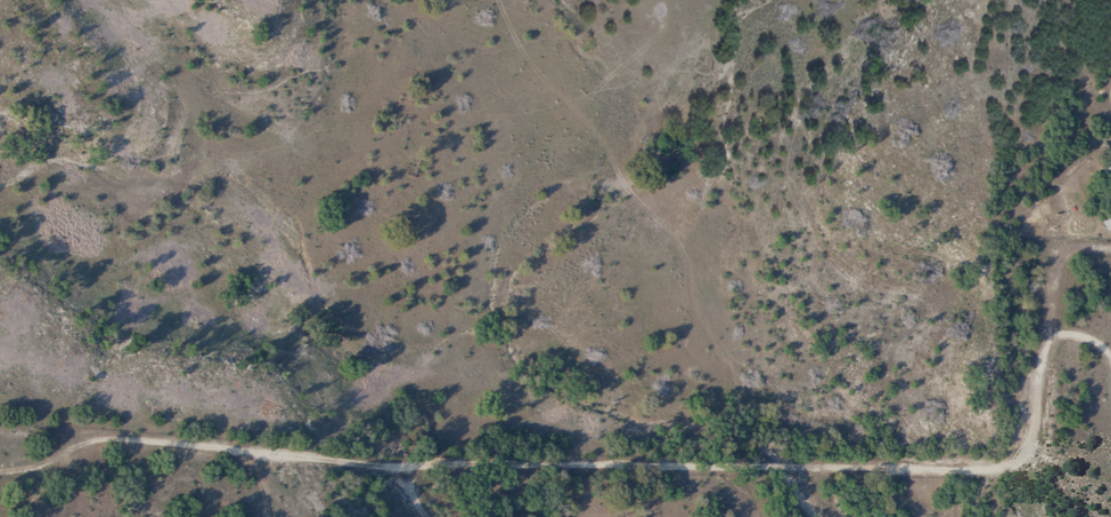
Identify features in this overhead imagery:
building: (1107, 171)

